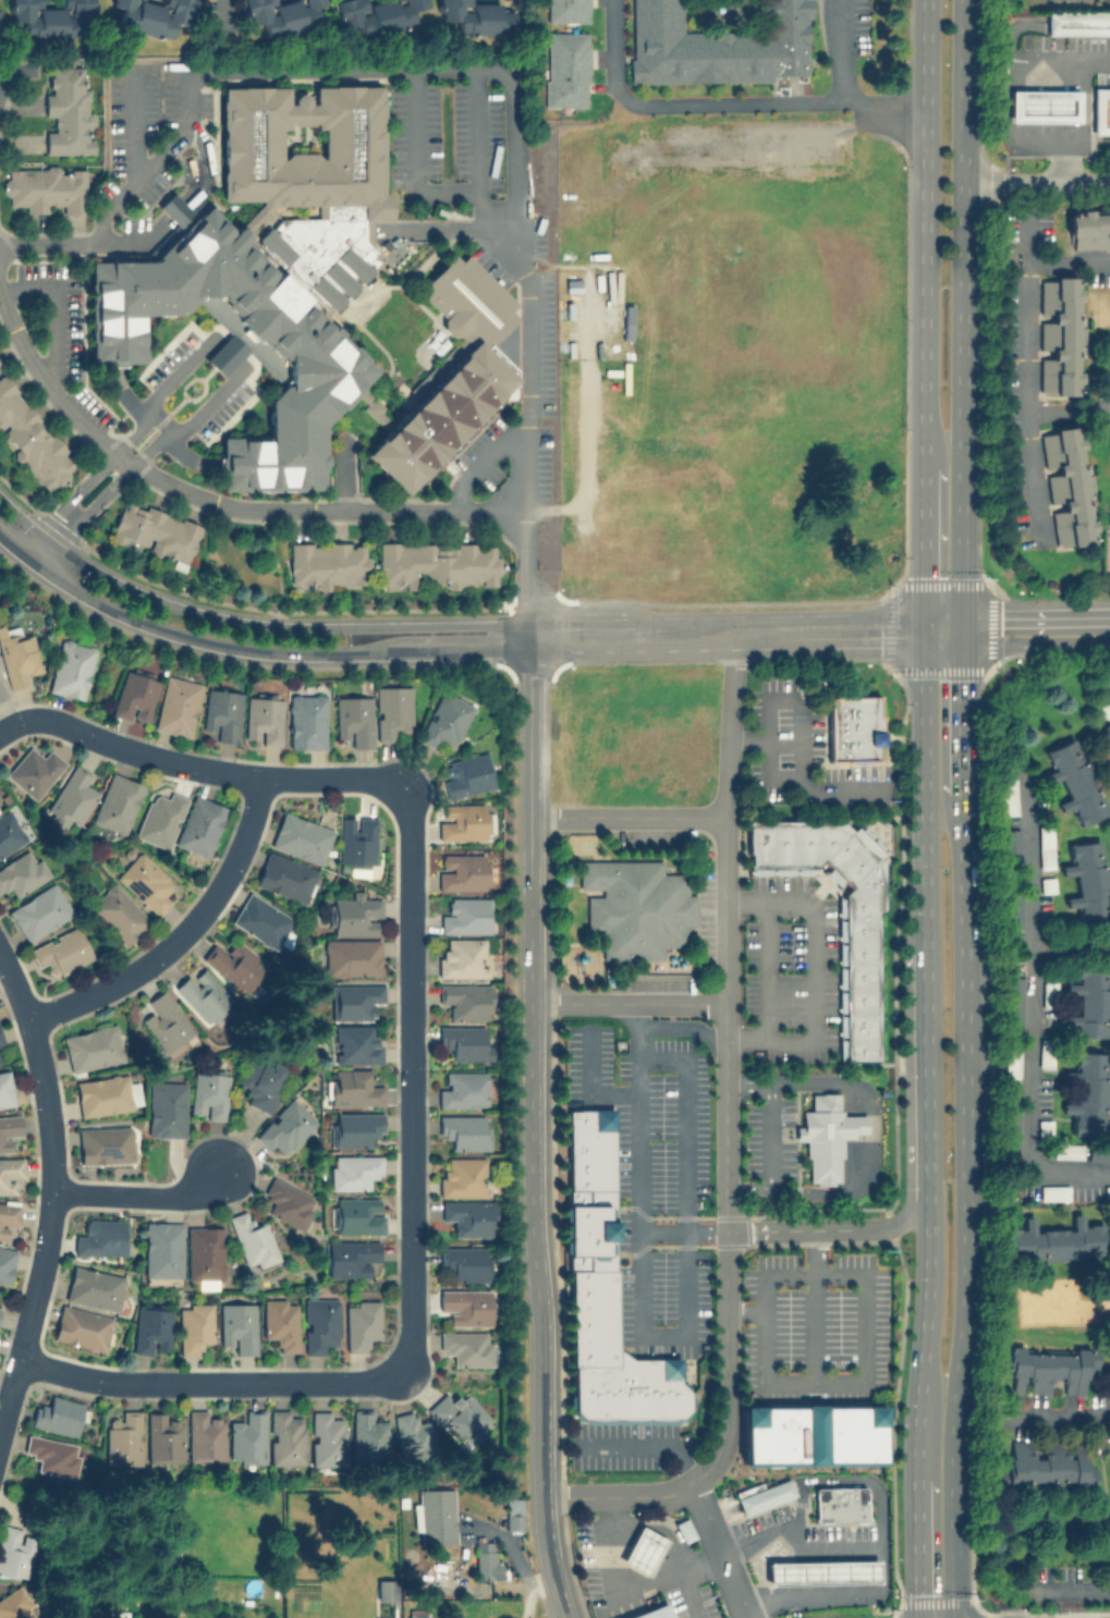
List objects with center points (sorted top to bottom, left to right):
building: (568, 10)
building: (282, 14)
building: (376, 14)
building: (154, 15)
road: (227, 15)
building: (475, 16)
building: (52, 19)
building: (1078, 22)
building: (717, 45)
road: (1058, 62)
road: (453, 69)
building: (565, 69)
road: (729, 103)
building: (1042, 105)
gas station: (1042, 105)
building: (1100, 109)
building: (66, 111)
road: (880, 111)
road: (136, 122)
road: (1082, 123)
road: (1037, 180)
road: (133, 182)
building: (46, 187)
building: (173, 208)
building: (1088, 230)
road: (924, 233)
road: (1068, 262)
building: (269, 272)
building: (1058, 334)
road: (225, 353)
road: (1024, 371)
building: (452, 373)
road: (1066, 412)
road: (588, 437)
building: (31, 438)
building: (1065, 486)
road: (215, 503)
building: (157, 531)
road: (50, 538)
road: (923, 541)
building: (438, 563)
building: (328, 564)
traffic signals: (923, 615)
road: (725, 620)
road: (942, 622)
road: (247, 624)
road: (923, 627)
road: (1036, 627)
traffic signals: (963, 628)
road: (942, 634)
road: (528, 636)
traffic signals: (923, 639)
road: (725, 645)
road: (248, 647)
building: (17, 657)
building: (71, 667)
road: (1106, 682)
building: (1, 689)
building: (135, 696)
building: (178, 706)
road: (802, 709)
building: (1103, 710)
building: (393, 712)
building: (222, 713)
building: (264, 720)
building: (307, 720)
building: (354, 720)
building: (446, 720)
building: (852, 727)
road: (528, 733)
road: (747, 738)
building: (1103, 743)
parking lot: (802, 750)
road: (200, 768)
building: (34, 771)
building: (468, 773)
building: (1074, 780)
road: (924, 795)
building: (1008, 796)
building: (72, 797)
building: (117, 805)
building: (0, 807)
road: (964, 809)
road: (627, 817)
building: (160, 818)
building: (464, 821)
building: (200, 825)
building: (9, 833)
parking lot: (655, 835)
building: (301, 836)
building: (356, 839)
building: (462, 871)
building: (22, 872)
building: (286, 877)
building: (1088, 880)
building: (145, 881)
building: (636, 906)
parking lot: (706, 906)
building: (40, 911)
building: (118, 914)
building: (356, 915)
building: (465, 916)
building: (261, 919)
road: (182, 935)
road: (1070, 946)
building: (61, 951)
building: (352, 956)
building: (462, 958)
building: (235, 964)
road: (768, 969)
parking lot: (790, 969)
road: (814, 972)
parking lot: (660, 983)
building: (861, 985)
building: (204, 995)
building: (354, 1000)
building: (465, 1000)
building: (1090, 1002)
road: (625, 1004)
road: (1028, 1015)
building: (164, 1021)
building: (1, 1040)
building: (465, 1042)
building: (355, 1043)
building: (93, 1047)
road: (927, 1070)
road: (411, 1079)
building: (260, 1080)
road: (746, 1081)
road: (591, 1084)
building: (353, 1088)
building: (7, 1089)
building: (463, 1089)
building: (1088, 1092)
building: (106, 1094)
building: (209, 1094)
building: (167, 1108)
road: (638, 1117)
building: (285, 1126)
building: (354, 1127)
building: (9, 1130)
building: (465, 1131)
road: (770, 1135)
building: (826, 1136)
road: (869, 1136)
parking lot: (768, 1138)
building: (103, 1143)
road: (724, 1147)
building: (1069, 1150)
building: (353, 1170)
building: (463, 1176)
parking lot: (652, 1180)
road: (748, 1186)
building: (1107, 1191)
road: (49, 1192)
building: (1049, 1192)
road: (138, 1193)
road: (529, 1199)
building: (288, 1202)
building: (358, 1214)
building: (8, 1216)
building: (468, 1216)
road: (833, 1228)
road: (682, 1230)
building: (100, 1237)
building: (252, 1239)
building: (1054, 1241)
road: (686, 1246)
building: (162, 1249)
building: (205, 1252)
building: (351, 1255)
building: (465, 1262)
building: (5, 1263)
road: (864, 1275)
building: (94, 1287)
building: (605, 1290)
road: (813, 1304)
building: (465, 1306)
building: (280, 1323)
building: (320, 1323)
building: (361, 1324)
building: (194, 1326)
building: (237, 1326)
parking lot: (814, 1326)
building: (82, 1327)
building: (151, 1329)
road: (925, 1334)
building: (466, 1347)
building: (1048, 1368)
road: (212, 1381)
building: (458, 1413)
building: (57, 1414)
road: (1054, 1417)
building: (813, 1434)
building: (204, 1435)
building: (414, 1435)
building: (370, 1436)
building: (162, 1437)
building: (246, 1437)
building: (285, 1437)
building: (123, 1438)
building: (328, 1438)
road: (644, 1442)
parking lot: (619, 1444)
building: (51, 1454)
building: (1046, 1464)
road: (817, 1481)
building: (761, 1495)
building: (840, 1503)
building: (513, 1513)
building: (434, 1515)
road: (797, 1516)
road: (614, 1518)
road: (662, 1519)
building: (684, 1529)
road: (655, 1534)
building: (1106, 1539)
road: (606, 1545)
road: (796, 1548)
road: (917, 1548)
building: (642, 1549)
gas station: (642, 1549)
building: (15, 1550)
road: (716, 1550)
road: (643, 1554)
building: (486, 1558)
road: (691, 1558)
parking lot: (587, 1562)
road: (629, 1569)
building: (821, 1571)
gas station: (821, 1571)
road: (852, 1571)
road: (830, 1572)
road: (806, 1573)
road: (764, 1574)
road: (783, 1574)
road: (656, 1579)
road: (1070, 1588)
building: (386, 1589)
road: (532, 1593)
road: (687, 1595)
road: (832, 1596)
road: (558, 1598)
parking lot: (692, 1603)
building: (15, 1605)
road: (596, 1610)
building: (418, 1613)
building: (652, 1613)
building: (120, 1615)

